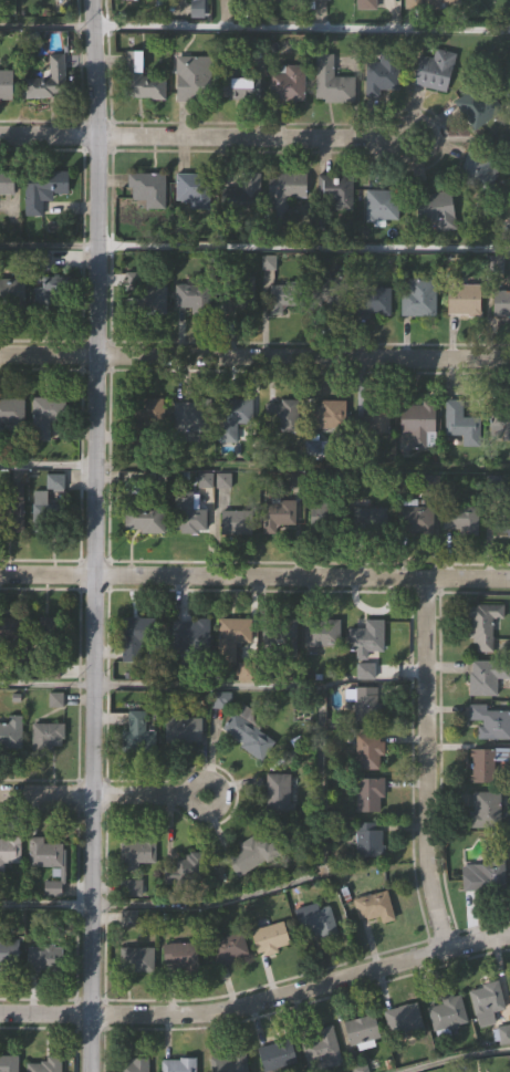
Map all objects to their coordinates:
building: (273, 0)
building: (322, 0)
building: (366, 3)
building: (426, 3)
road: (254, 24)
building: (433, 71)
building: (381, 73)
building: (49, 76)
building: (195, 77)
building: (142, 79)
building: (237, 81)
building: (332, 81)
building: (288, 82)
building: (7, 84)
building: (477, 107)
road: (208, 134)
building: (480, 168)
building: (7, 181)
building: (42, 188)
building: (149, 188)
building: (194, 189)
building: (337, 189)
building: (283, 194)
building: (242, 196)
building: (382, 204)
building: (435, 208)
road: (254, 247)
building: (12, 291)
building: (329, 291)
building: (52, 293)
building: (146, 294)
building: (241, 295)
building: (287, 295)
building: (418, 296)
building: (196, 298)
building: (464, 298)
building: (372, 299)
building: (501, 302)
road: (254, 352)
building: (12, 412)
building: (235, 414)
building: (330, 414)
building: (144, 415)
building: (45, 416)
building: (283, 416)
building: (189, 418)
building: (375, 418)
building: (500, 419)
building: (461, 423)
building: (417, 424)
road: (254, 471)
building: (206, 481)
building: (45, 504)
building: (12, 509)
building: (143, 512)
building: (188, 512)
building: (278, 512)
building: (329, 513)
building: (371, 513)
building: (414, 517)
building: (236, 519)
building: (459, 519)
building: (502, 520)
road: (90, 535)
road: (254, 574)
building: (483, 623)
building: (50, 629)
building: (11, 633)
building: (322, 633)
building: (137, 636)
building: (191, 637)
building: (231, 637)
building: (282, 637)
building: (366, 638)
building: (487, 675)
road: (44, 688)
building: (366, 704)
building: (490, 721)
building: (180, 725)
building: (248, 731)
building: (10, 732)
building: (138, 735)
building: (48, 736)
building: (368, 751)
road: (424, 759)
building: (486, 761)
road: (321, 787)
road: (44, 793)
building: (370, 793)
road: (146, 794)
building: (280, 794)
building: (487, 809)
building: (367, 839)
building: (10, 852)
building: (137, 852)
building: (44, 853)
building: (252, 854)
building: (186, 867)
building: (486, 874)
building: (132, 888)
road: (43, 906)
building: (374, 906)
building: (316, 920)
building: (270, 937)
building: (229, 947)
building: (181, 953)
building: (10, 954)
building: (138, 957)
building: (48, 958)
road: (258, 993)
building: (487, 1000)
building: (446, 1014)
building: (404, 1018)
building: (361, 1029)
building: (320, 1048)
building: (279, 1052)
building: (228, 1061)
road: (457, 1061)
building: (8, 1063)
building: (177, 1063)
building: (134, 1064)
building: (45, 1065)

